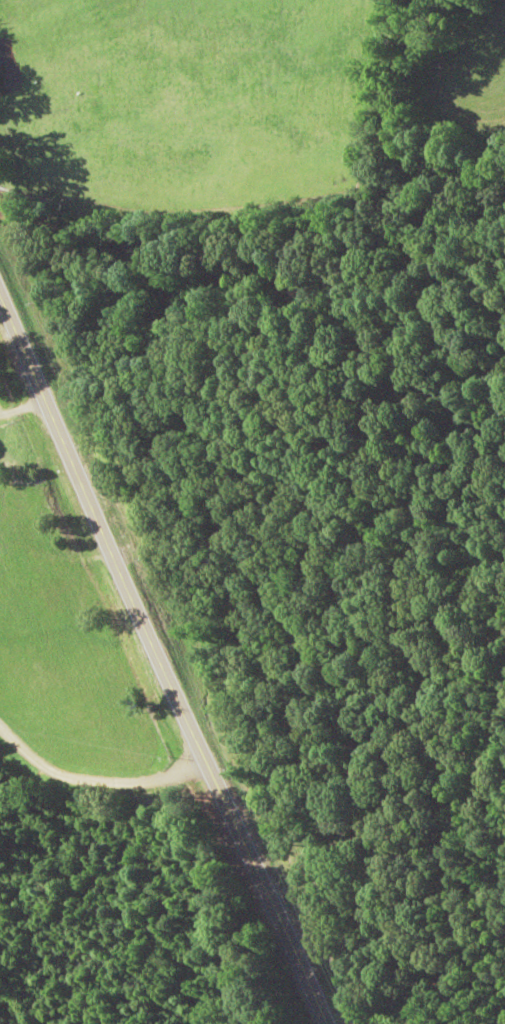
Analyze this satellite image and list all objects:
road: (159, 677)
road: (277, 1009)

